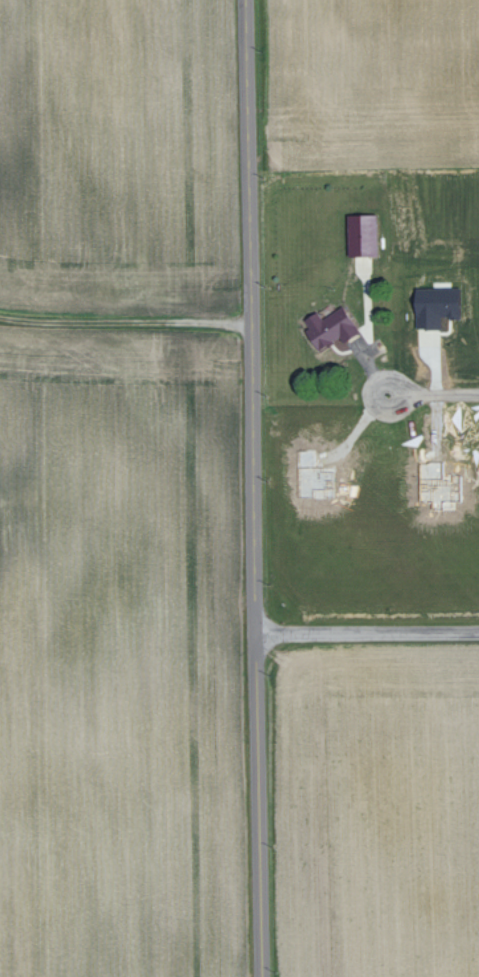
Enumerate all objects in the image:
road: (124, 321)
building: (333, 327)
road: (432, 395)
road: (250, 488)
road: (366, 632)

